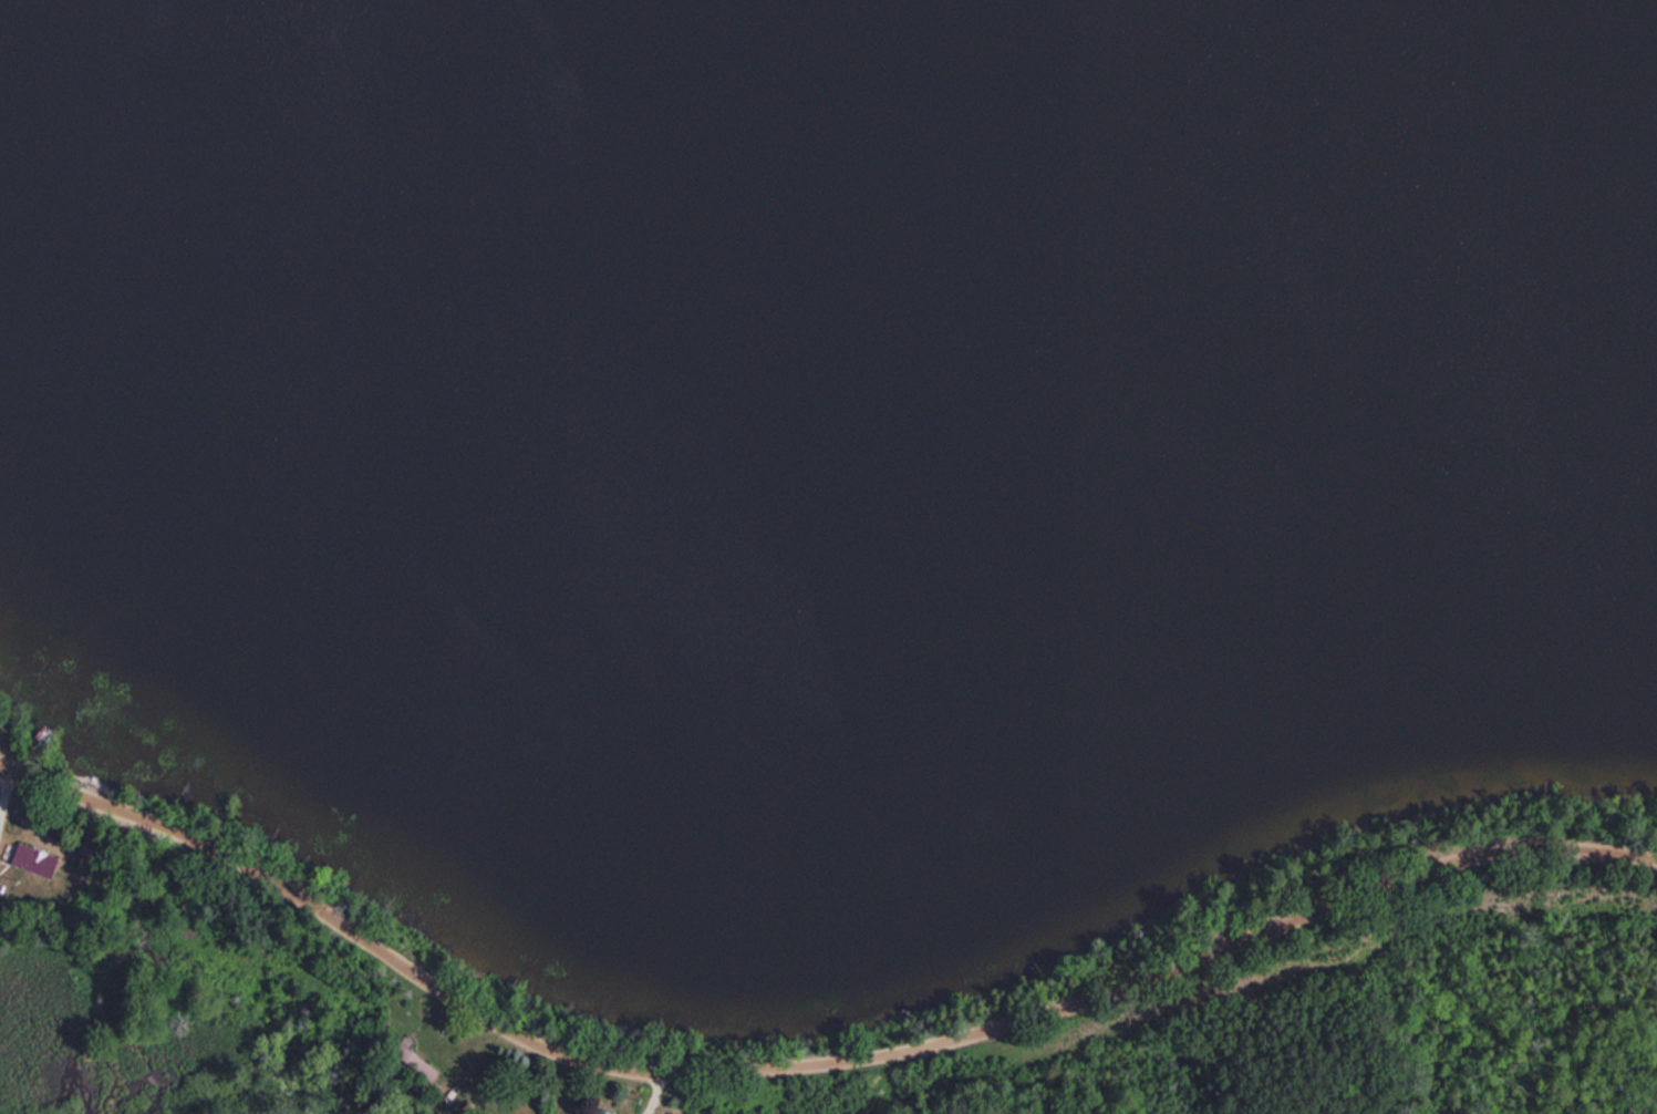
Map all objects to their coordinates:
building: (31, 860)
road: (809, 1060)
building: (414, 1061)
building: (597, 1112)

